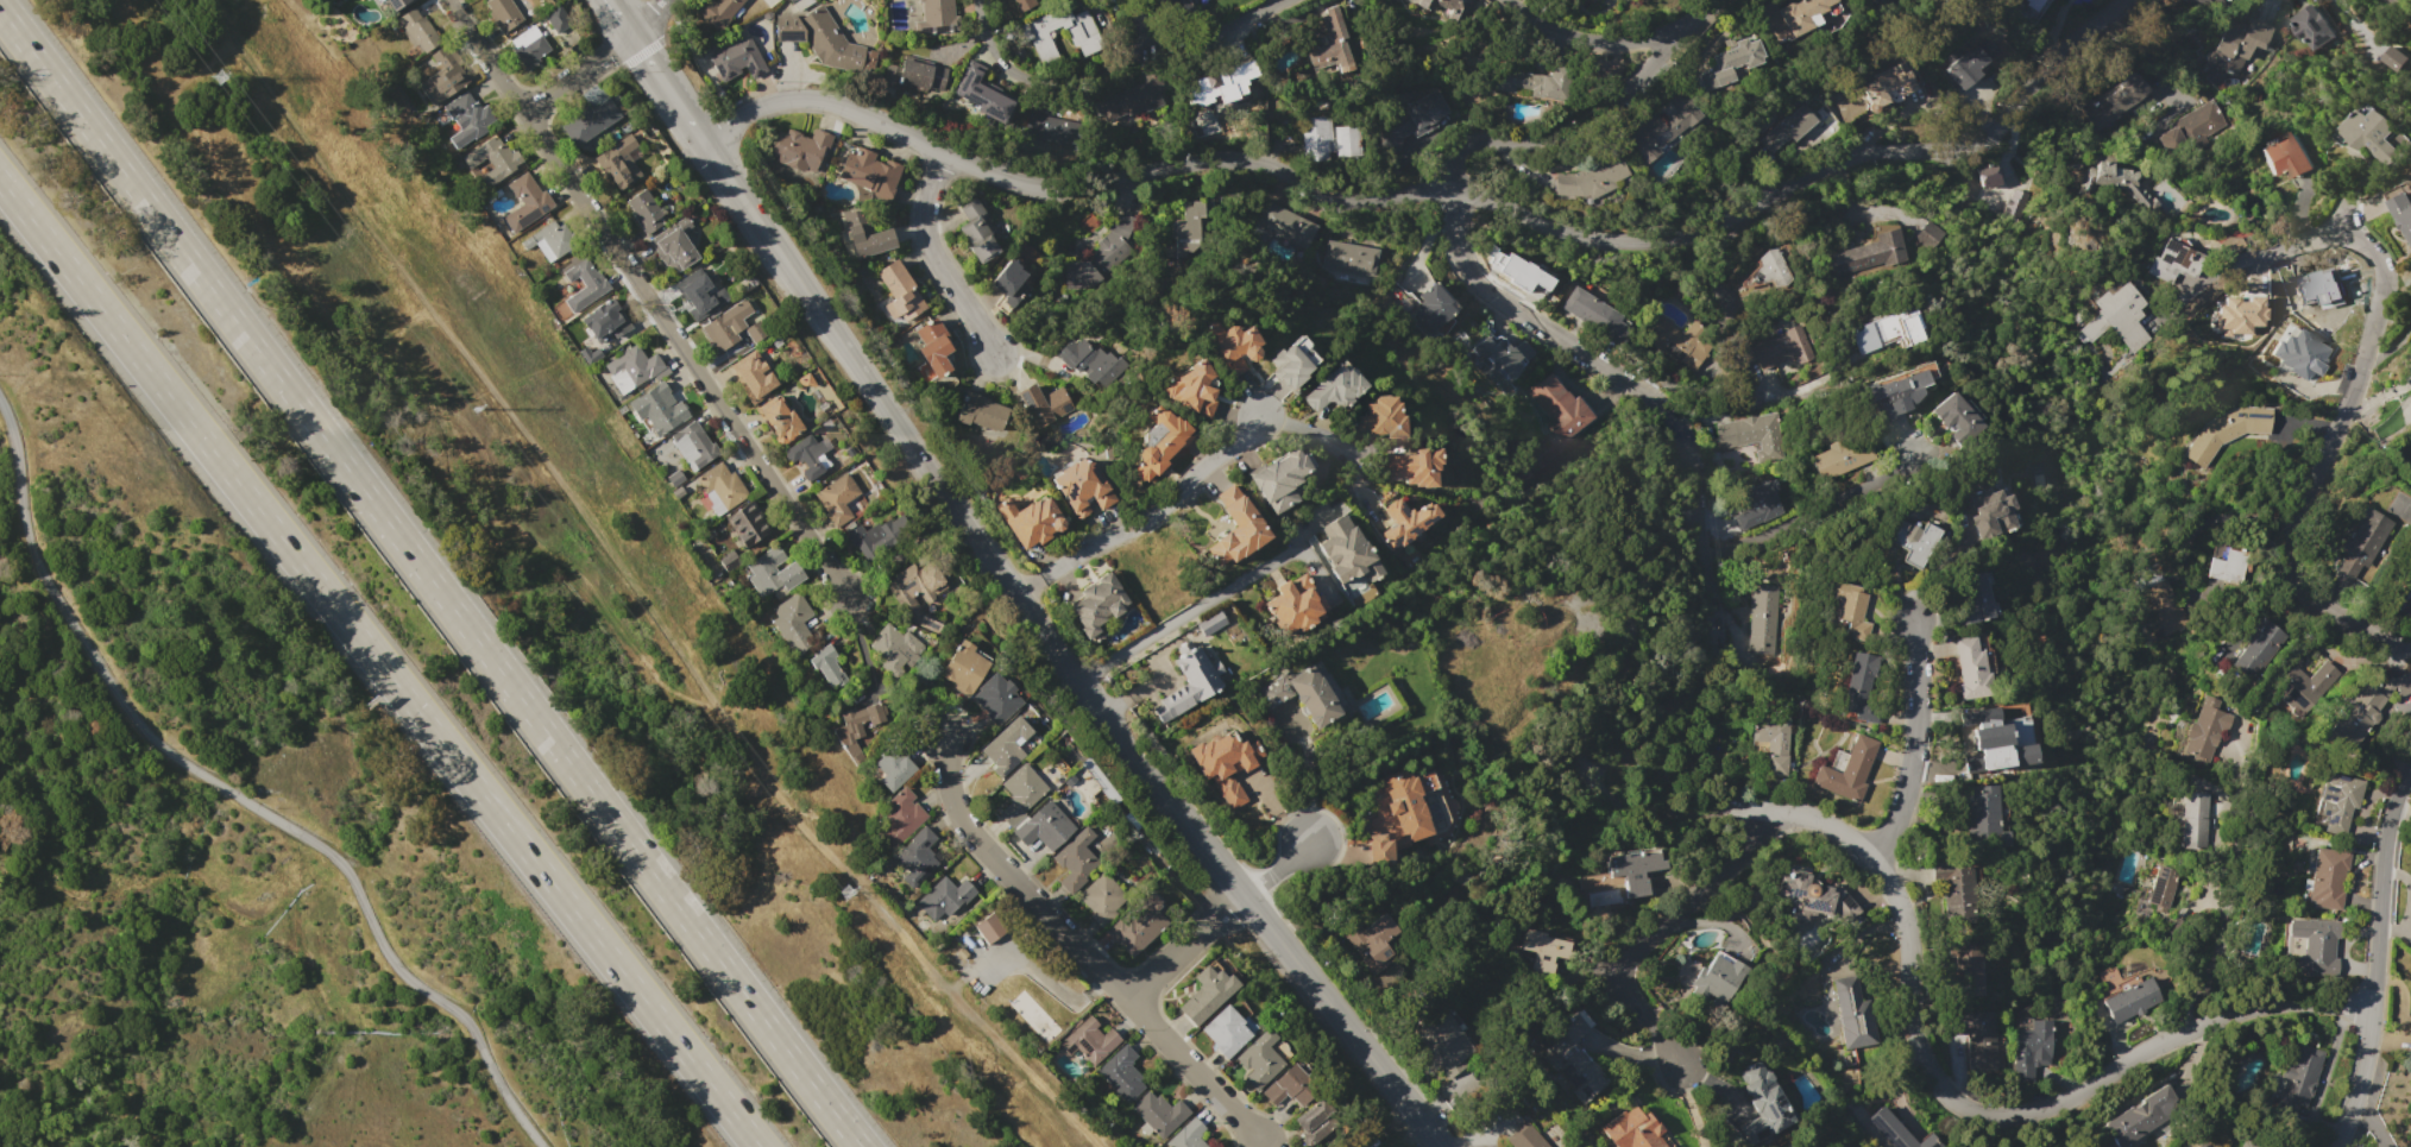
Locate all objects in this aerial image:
building: (1632, 0)
building: (2204, 1)
building: (2388, 1)
building: (394, 4)
building: (1025, 4)
building: (1443, 5)
building: (2027, 8)
building: (718, 12)
building: (503, 13)
building: (1801, 13)
building: (937, 17)
road: (621, 18)
building: (556, 19)
road: (2353, 23)
road: (1138, 24)
road: (1216, 24)
building: (2314, 26)
building: (418, 31)
building: (1032, 38)
building: (1335, 39)
building: (824, 40)
road: (1590, 40)
building: (2237, 42)
building: (528, 46)
road: (604, 58)
building: (2393, 58)
building: (737, 59)
road: (648, 61)
building: (1727, 63)
building: (1969, 63)
building: (2410, 65)
building: (447, 73)
building: (913, 75)
power tower: (218, 76)
road: (1045, 77)
building: (1530, 81)
building: (1221, 83)
building: (1887, 86)
building: (980, 92)
road: (668, 95)
building: (1133, 96)
building: (2114, 103)
road: (1592, 115)
building: (467, 118)
building: (1410, 121)
building: (593, 122)
road: (685, 124)
building: (1661, 126)
building: (1045, 127)
building: (1788, 128)
building: (2189, 128)
building: (2366, 133)
building: (1314, 137)
building: (1345, 140)
building: (799, 149)
building: (2286, 156)
building: (493, 160)
building: (618, 168)
building: (869, 170)
road: (1811, 174)
building: (1987, 174)
building: (1591, 177)
building: (2122, 183)
road: (1065, 189)
building: (525, 201)
building: (2015, 207)
building: (647, 212)
building: (2403, 213)
building: (1285, 223)
building: (976, 232)
building: (1183, 232)
building: (863, 234)
building: (549, 235)
building: (1928, 235)
building: (674, 248)
building: (1101, 252)
building: (1869, 254)
building: (1349, 260)
building: (2174, 263)
road: (942, 266)
building: (1516, 270)
building: (1765, 272)
building: (1008, 278)
building: (585, 283)
building: (899, 292)
road: (656, 297)
building: (693, 297)
building: (1431, 308)
building: (2237, 314)
building: (1595, 315)
building: (611, 317)
building: (2117, 317)
building: (735, 327)
building: (1889, 330)
road: (2392, 341)
building: (1682, 342)
building: (1225, 345)
building: (1782, 348)
building: (932, 349)
building: (2298, 353)
building: (1498, 360)
building: (1286, 361)
building: (1090, 363)
building: (634, 368)
road: (857, 368)
road: (2363, 379)
building: (758, 380)
building: (1329, 387)
road: (1807, 387)
building: (1186, 389)
building: (1896, 392)
road: (1637, 393)
building: (2410, 399)
building: (1044, 404)
building: (661, 405)
building: (1557, 407)
power tower: (472, 408)
building: (980, 411)
building: (1957, 417)
building: (1378, 418)
building: (781, 422)
building: (2226, 430)
building: (1752, 435)
building: (1156, 441)
building: (701, 446)
road: (1334, 447)
building: (1842, 456)
building: (810, 458)
building: (1412, 467)
building: (675, 478)
building: (1277, 479)
building: (1081, 486)
building: (722, 489)
building: (678, 493)
building: (838, 499)
road: (1817, 510)
building: (1757, 511)
building: (1989, 512)
road: (1150, 517)
road: (2212, 518)
building: (1030, 521)
building: (1404, 522)
building: (750, 525)
building: (1234, 527)
building: (874, 540)
building: (1912, 541)
building: (2363, 541)
building: (1347, 554)
building: (726, 563)
building: (2229, 566)
building: (773, 575)
building: (2410, 579)
road: (429, 580)
building: (918, 588)
building: (1971, 598)
building: (1097, 605)
building: (2164, 605)
road: (1202, 606)
building: (1293, 606)
building: (1850, 609)
building: (792, 618)
building: (1764, 619)
building: (1210, 623)
building: (2254, 650)
building: (900, 651)
road: (379, 663)
building: (827, 663)
building: (1975, 666)
building: (968, 669)
building: (1189, 683)
building: (2305, 686)
building: (1861, 688)
building: (1307, 693)
building: (1000, 697)
building: (2368, 706)
building: (858, 727)
building: (2205, 729)
building: (1998, 740)
building: (1773, 742)
building: (1012, 745)
road: (1913, 745)
building: (1225, 764)
building: (899, 765)
building: (1846, 769)
road: (1309, 776)
road: (232, 790)
building: (1027, 793)
building: (2337, 805)
building: (1983, 809)
building: (1408, 813)
building: (902, 817)
building: (2193, 820)
building: (1056, 826)
building: (924, 856)
building: (1082, 856)
road: (1277, 865)
building: (1633, 870)
road: (1230, 874)
building: (2327, 880)
building: (2161, 888)
power tower: (843, 890)
building: (1956, 890)
building: (1812, 896)
building: (952, 899)
building: (1106, 899)
road: (2182, 925)
building: (996, 927)
building: (986, 928)
building: (1140, 931)
road: (1648, 937)
building: (1372, 941)
road: (1082, 944)
road: (1189, 945)
building: (2314, 947)
building: (1543, 950)
road: (2380, 956)
building: (1968, 963)
building: (2107, 976)
building: (1717, 978)
building: (1214, 994)
building: (2129, 997)
building: (1852, 1013)
building: (2410, 1028)
building: (1233, 1032)
building: (1097, 1040)
building: (1979, 1040)
building: (1446, 1042)
building: (2032, 1047)
building: (1569, 1057)
building: (1266, 1059)
building: (2300, 1071)
building: (1129, 1072)
building: (1298, 1085)
road: (1958, 1097)
building: (1762, 1102)
building: (1166, 1113)
building: (1321, 1114)
building: (2136, 1117)
building: (1632, 1129)
building: (1896, 1130)
building: (1194, 1135)
building: (1524, 1137)
building: (2246, 1145)

